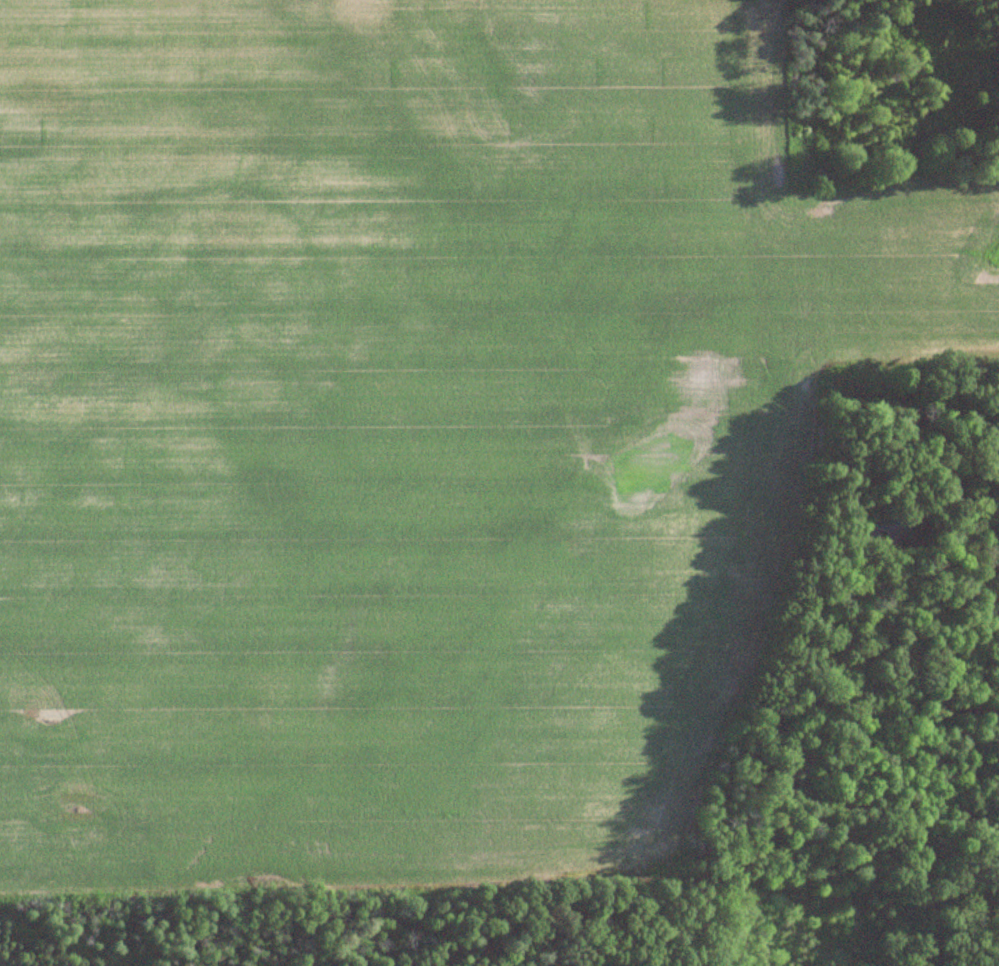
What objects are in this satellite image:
crop: (409, 430)

